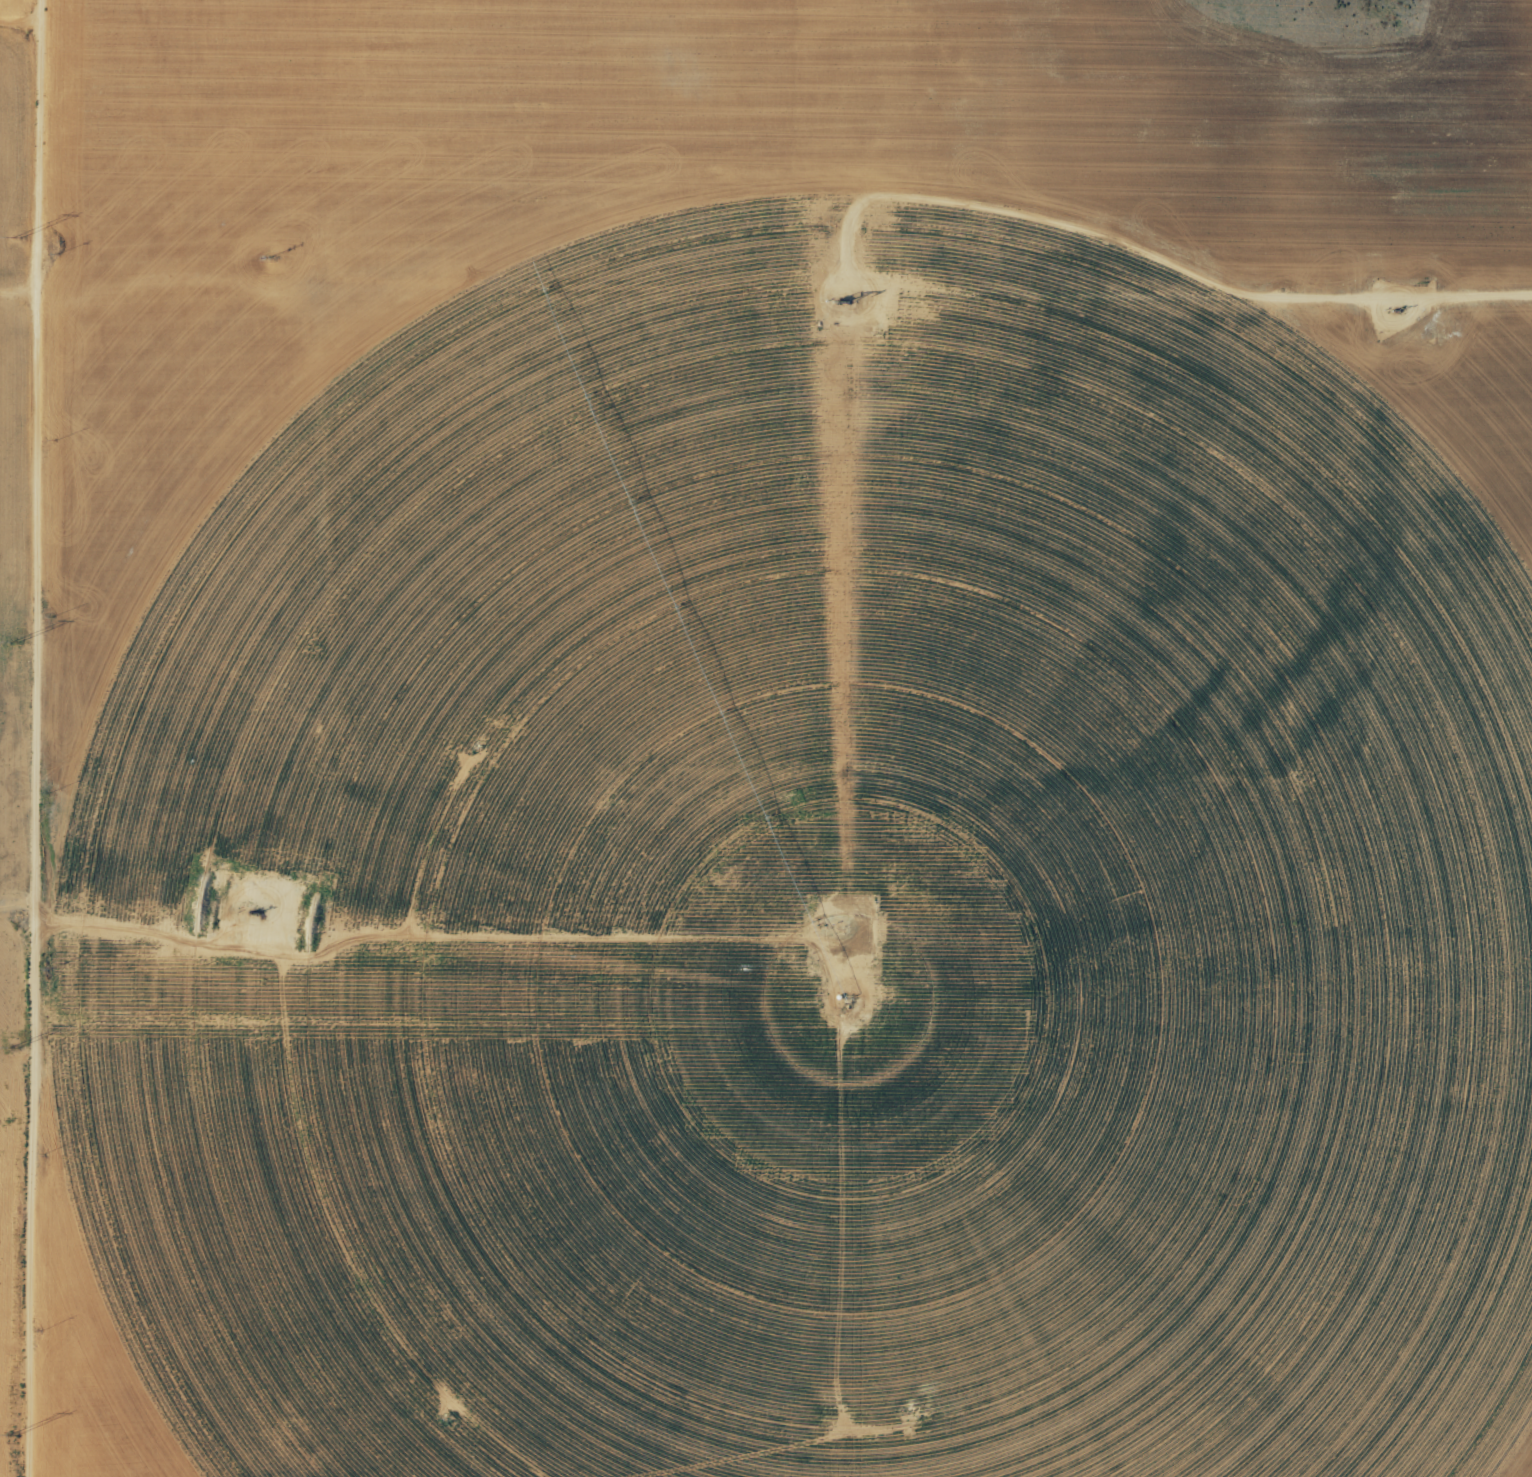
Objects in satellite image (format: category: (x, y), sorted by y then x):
road: (19, 40)
road: (31, 738)

